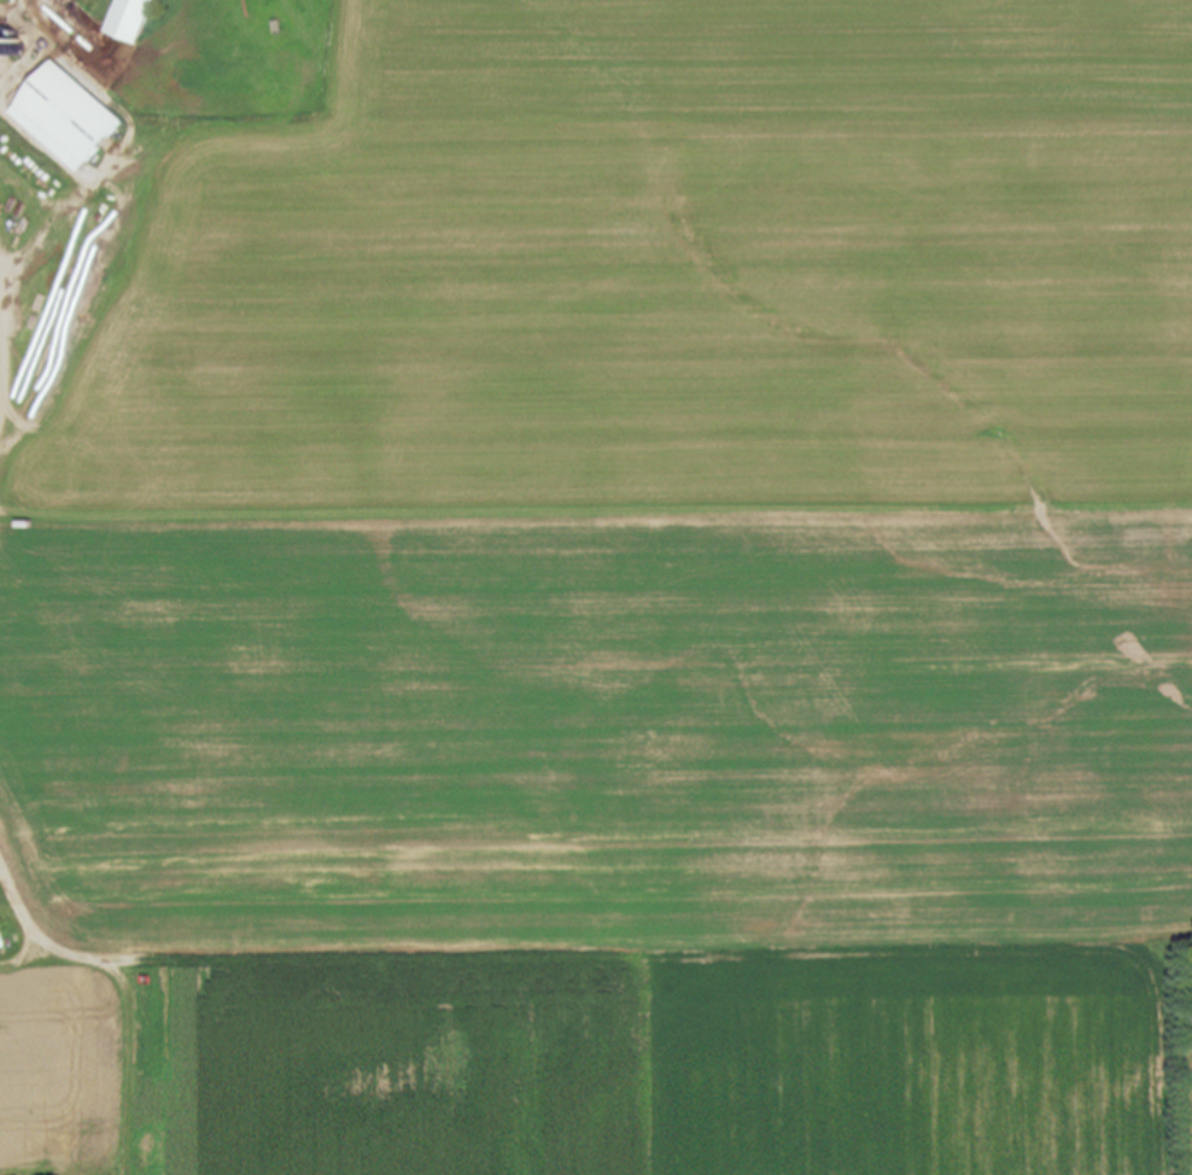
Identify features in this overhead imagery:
building: (2, 0)
building: (25, 0)
building: (134, 19)
building: (71, 117)

